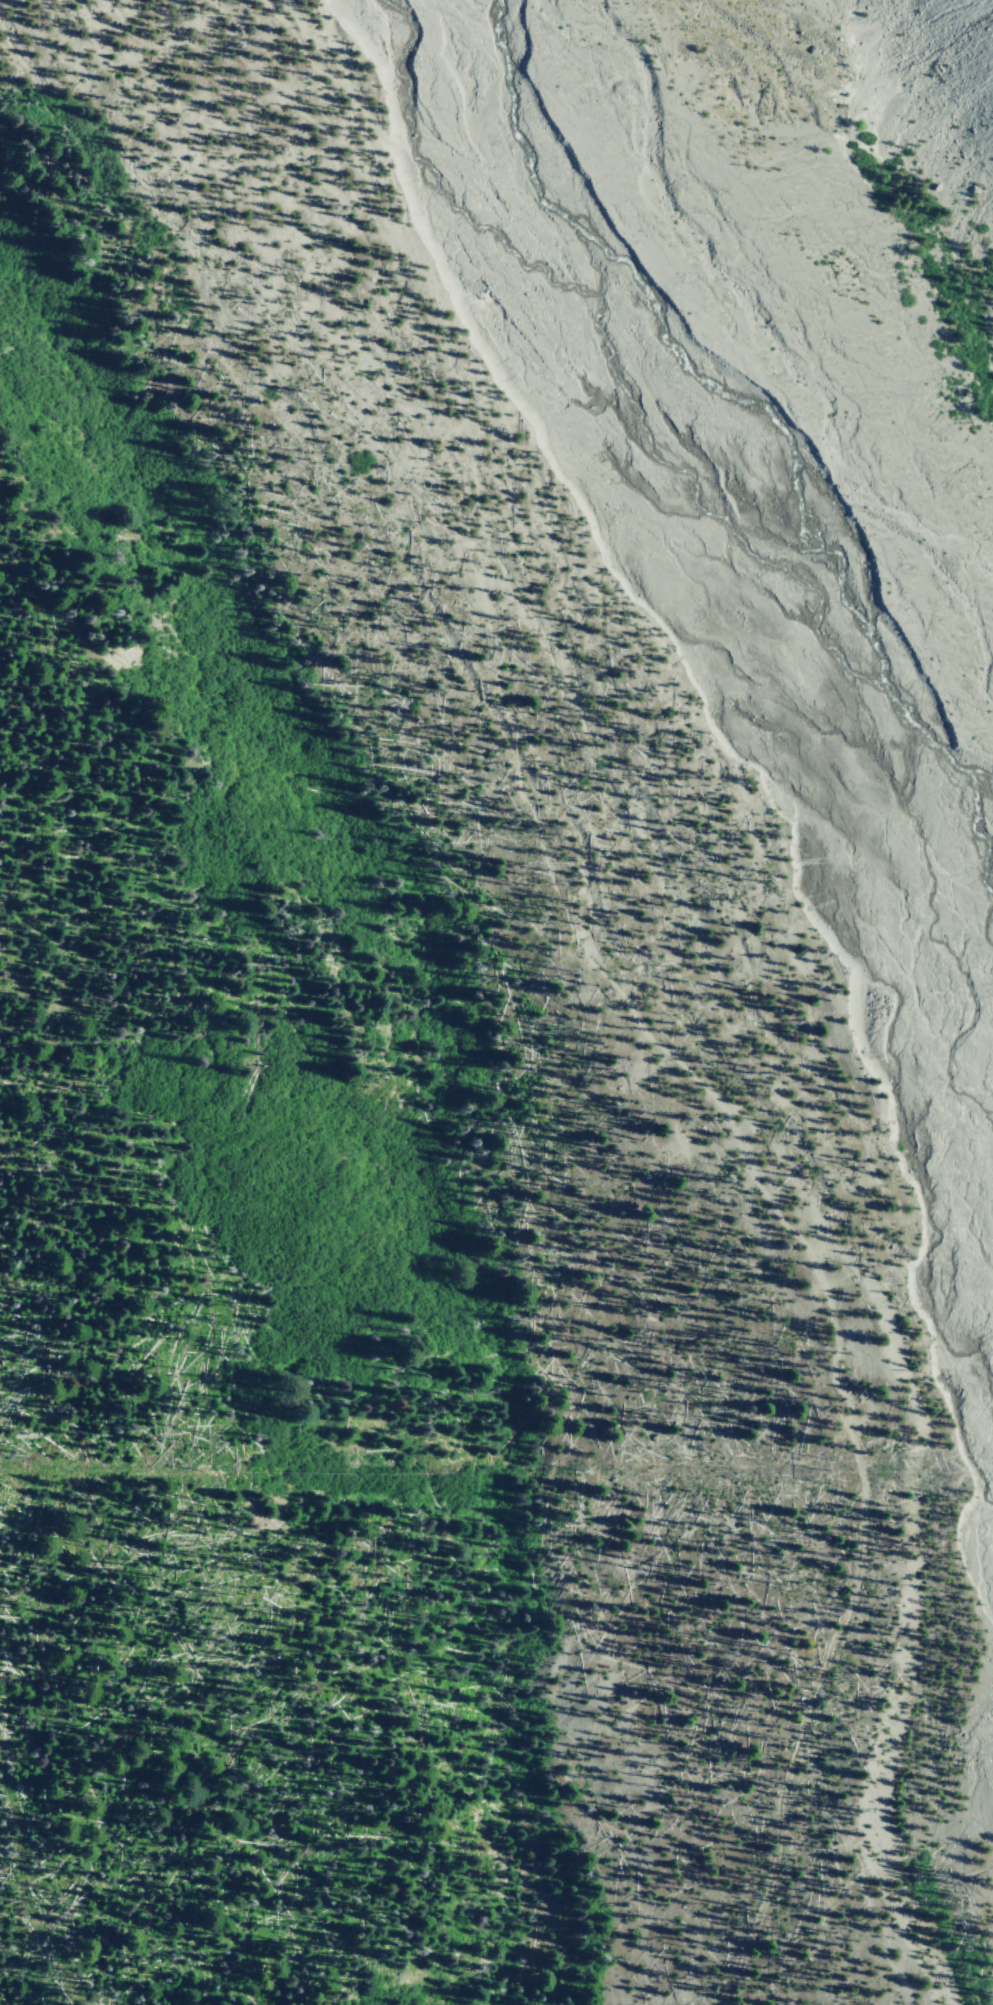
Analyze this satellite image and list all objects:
road: (277, 415)
road: (462, 461)
river: (779, 695)
road: (765, 1182)
road: (802, 1730)
road: (853, 1857)

